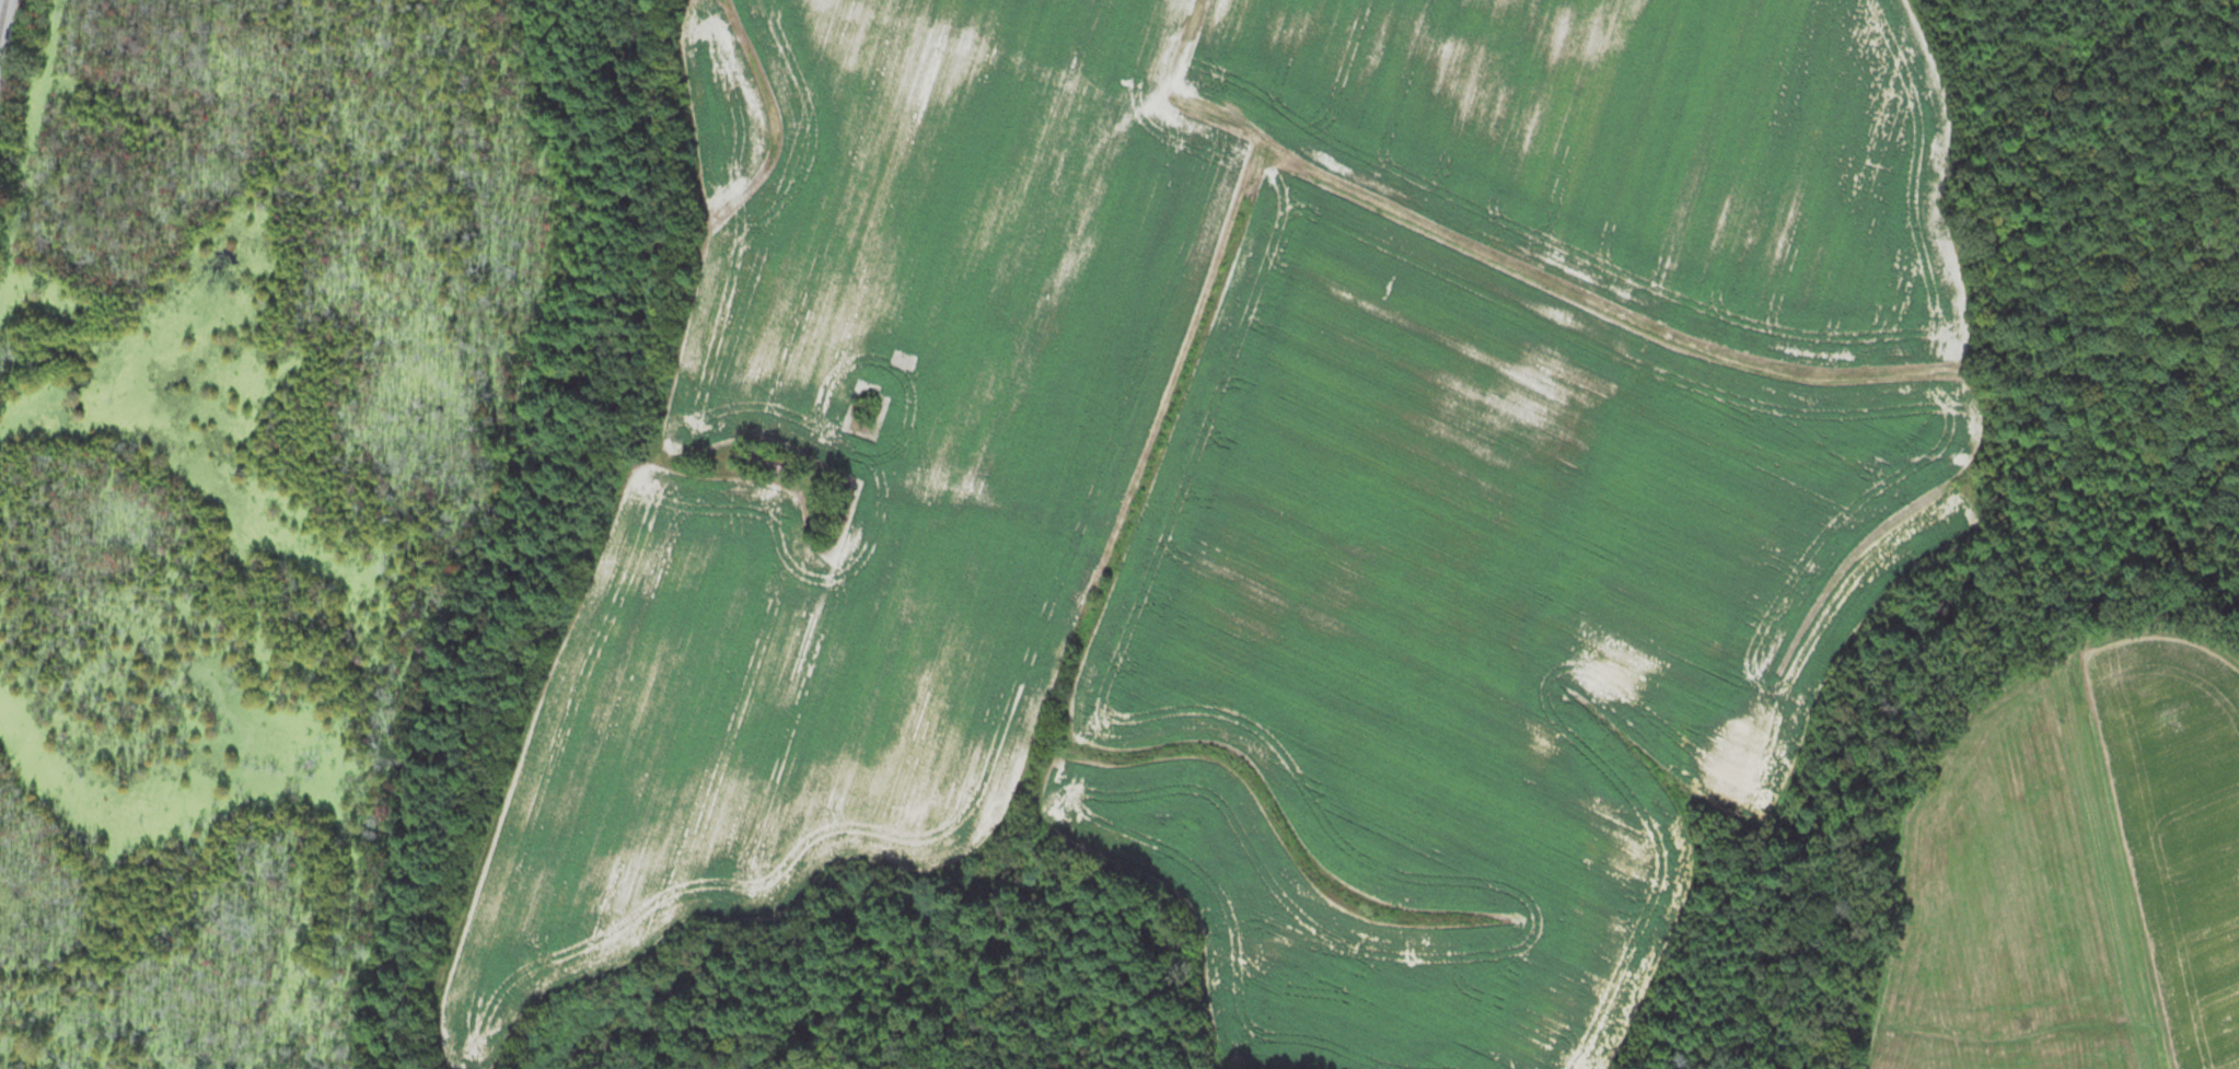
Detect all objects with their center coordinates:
railway: (3, 15)
road: (1054, 228)
road: (1505, 408)
building: (767, 461)

